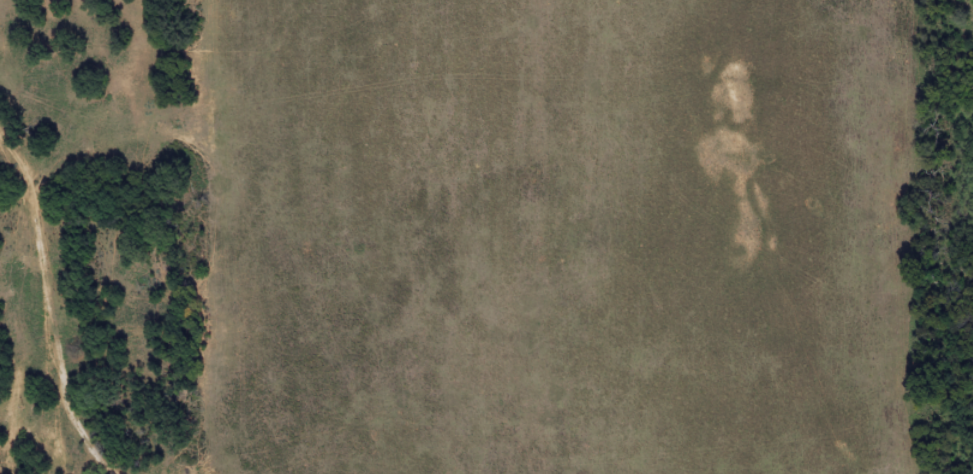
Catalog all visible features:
road: (28, 368)

